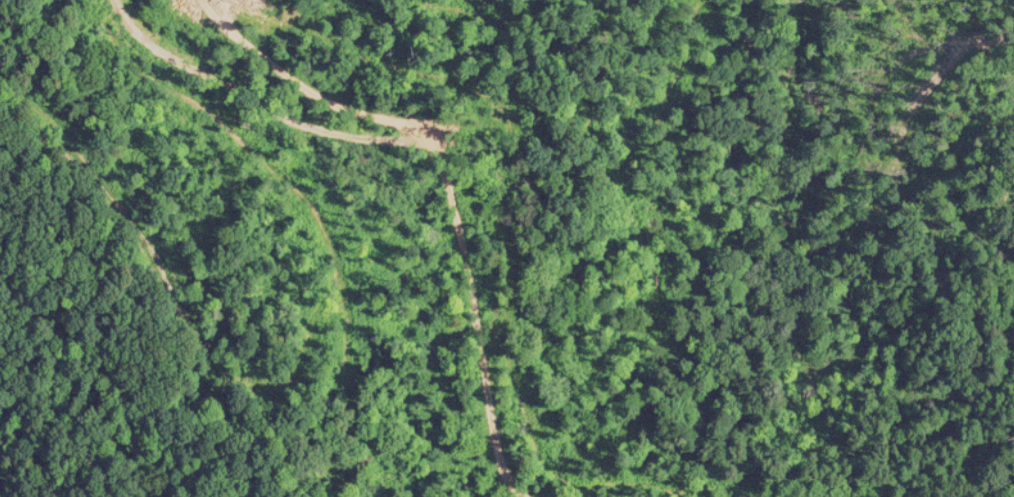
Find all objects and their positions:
road: (429, 243)

